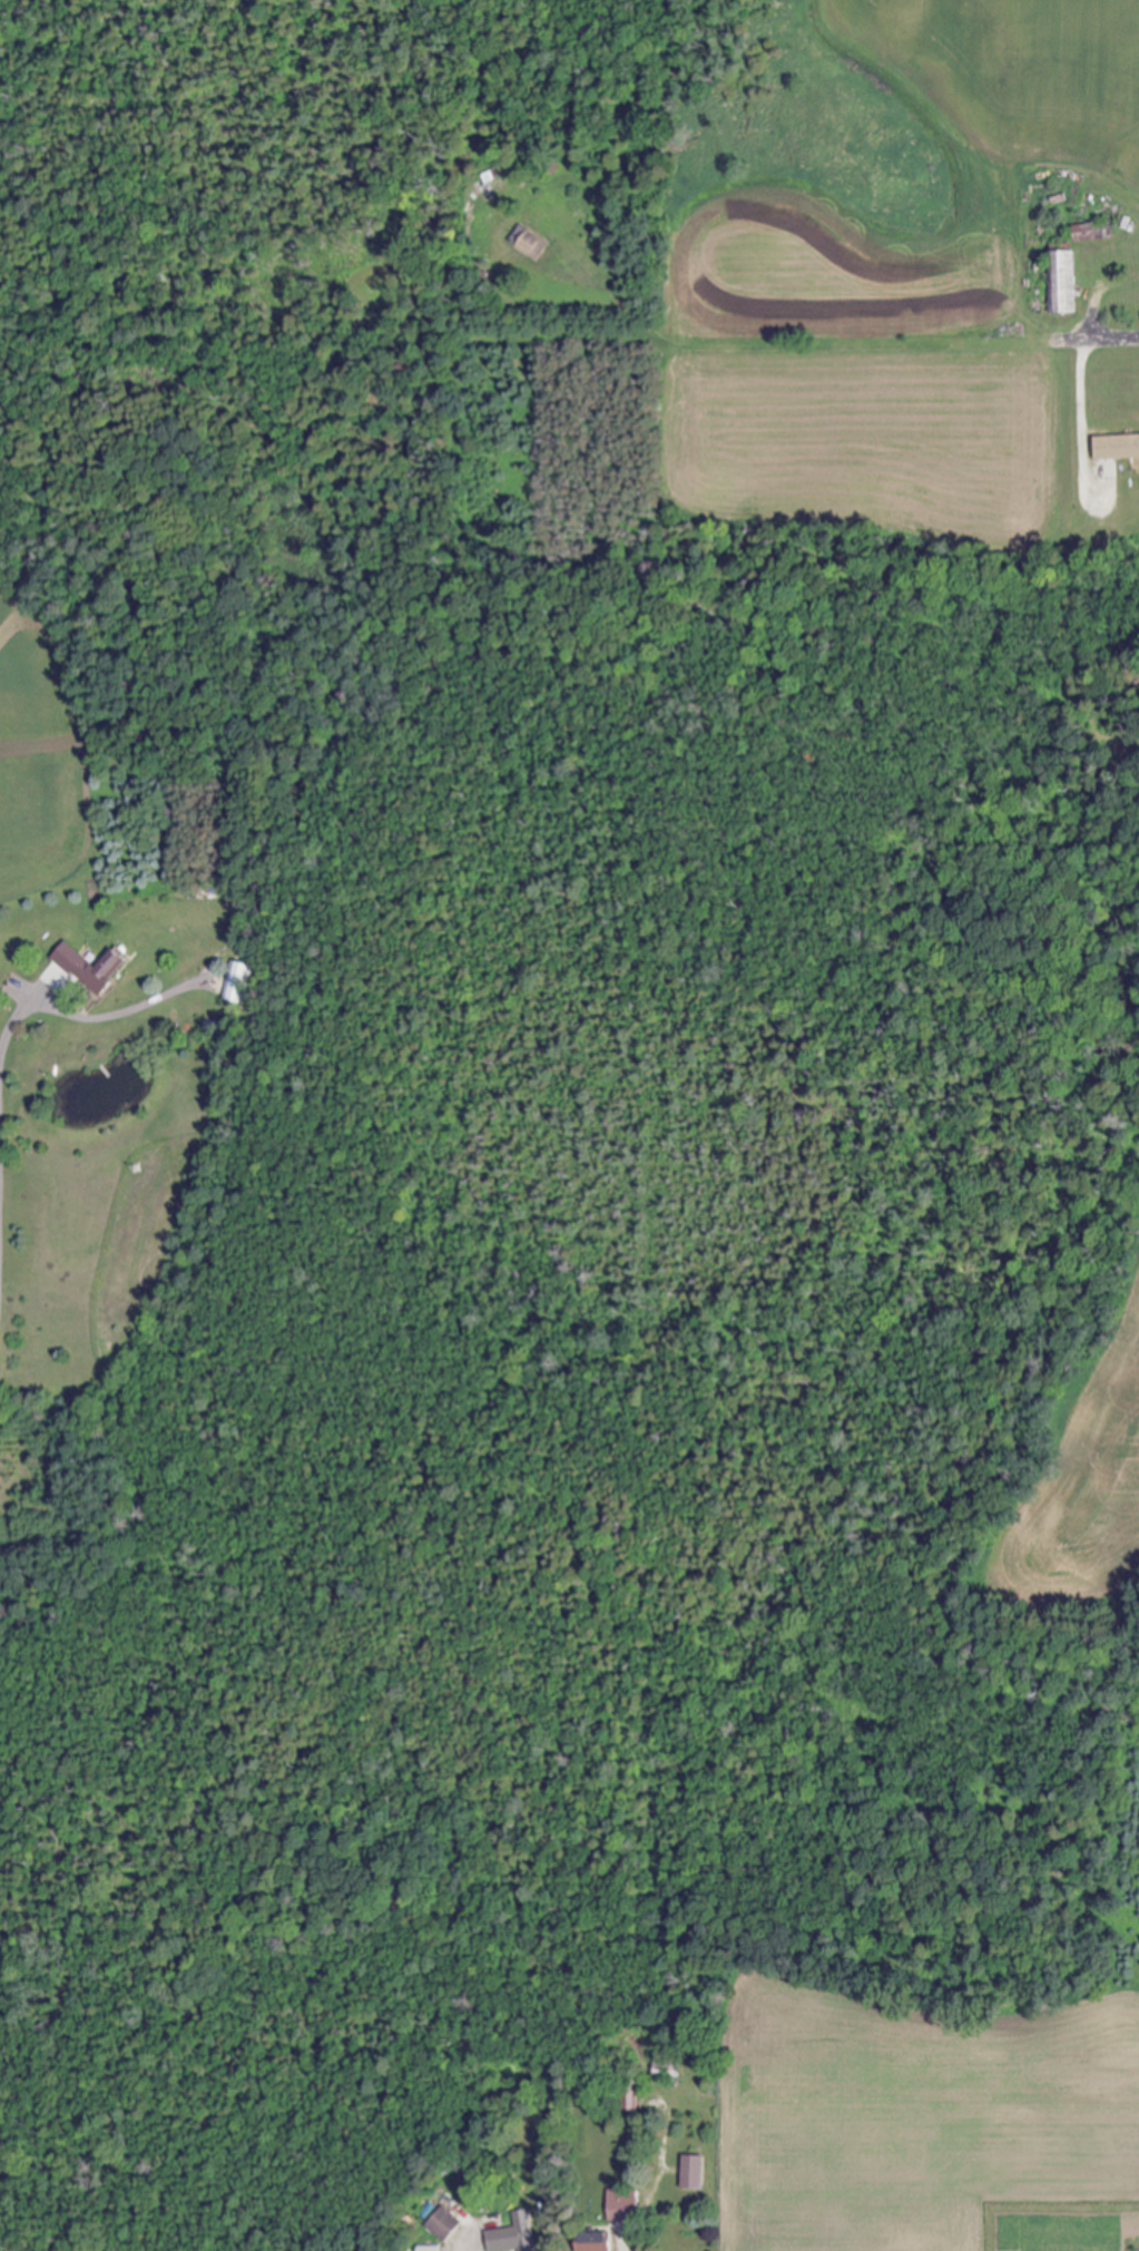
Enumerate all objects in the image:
building: (1080, 232)
building: (528, 244)
building: (1059, 282)
road: (1094, 333)
road: (1082, 390)
building: (1113, 447)
building: (95, 968)
building: (239, 983)
road: (1, 1065)
building: (626, 2092)
building: (688, 2172)
building: (618, 2204)
building: (440, 2223)
building: (508, 2235)
building: (589, 2241)
road: (629, 2247)
building: (425, 2248)
road: (462, 2250)

